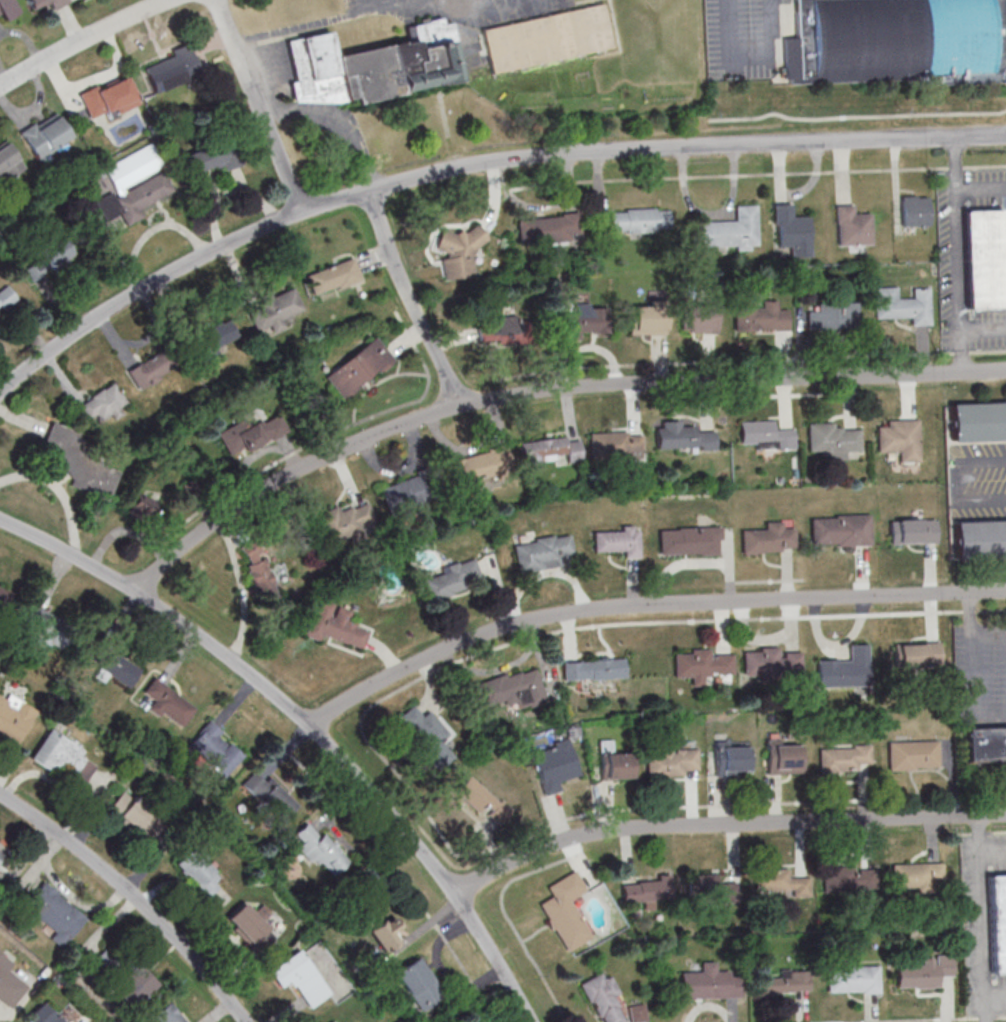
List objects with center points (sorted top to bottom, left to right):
building: (46, 3)
building: (8, 9)
road: (302, 29)
building: (895, 38)
road: (84, 40)
building: (443, 52)
road: (751, 60)
building: (173, 69)
building: (107, 98)
road: (259, 105)
road: (338, 123)
building: (46, 135)
building: (214, 156)
building: (9, 161)
road: (474, 165)
building: (135, 186)
road: (981, 188)
building: (913, 211)
building: (639, 220)
building: (851, 226)
building: (548, 228)
building: (792, 230)
building: (729, 231)
building: (459, 251)
road: (956, 254)
building: (52, 258)
building: (982, 260)
building: (334, 277)
building: (7, 300)
road: (411, 300)
building: (902, 306)
building: (280, 308)
building: (833, 316)
building: (647, 319)
building: (761, 319)
building: (700, 320)
building: (585, 321)
building: (498, 329)
road: (983, 329)
building: (216, 335)
building: (359, 368)
building: (149, 370)
road: (543, 391)
building: (103, 404)
building: (977, 422)
building: (249, 434)
building: (765, 435)
building: (683, 437)
building: (899, 439)
building: (831, 440)
building: (615, 446)
building: (551, 450)
building: (79, 461)
building: (474, 467)
road: (956, 481)
road: (60, 492)
building: (405, 497)
building: (140, 507)
building: (346, 522)
building: (840, 530)
building: (912, 531)
building: (765, 539)
building: (617, 541)
building: (688, 541)
building: (979, 542)
building: (542, 552)
building: (260, 569)
building: (443, 584)
road: (243, 589)
building: (4, 597)
road: (644, 606)
building: (334, 625)
building: (46, 627)
building: (917, 655)
building: (770, 662)
building: (700, 664)
building: (117, 669)
building: (593, 669)
building: (845, 669)
road: (973, 669)
building: (510, 689)
building: (168, 703)
building: (13, 720)
road: (308, 726)
building: (428, 735)
building: (985, 744)
building: (215, 750)
building: (913, 755)
building: (784, 757)
building: (63, 758)
building: (845, 758)
building: (733, 759)
building: (672, 762)
building: (614, 763)
building: (554, 765)
building: (270, 796)
building: (483, 801)
building: (134, 817)
road: (722, 824)
building: (321, 849)
road: (992, 854)
building: (0, 855)
building: (197, 871)
building: (917, 876)
building: (849, 879)
building: (781, 883)
building: (712, 888)
building: (646, 894)
road: (133, 896)
building: (565, 912)
building: (53, 915)
road: (980, 919)
building: (248, 924)
building: (996, 924)
building: (380, 928)
building: (924, 973)
building: (301, 978)
building: (853, 979)
building: (8, 982)
building: (786, 982)
building: (710, 983)
building: (420, 984)
building: (134, 986)
road: (994, 997)
building: (604, 999)
building: (637, 1013)
building: (44, 1014)
building: (164, 1014)
building: (183, 1021)
building: (337, 1021)

